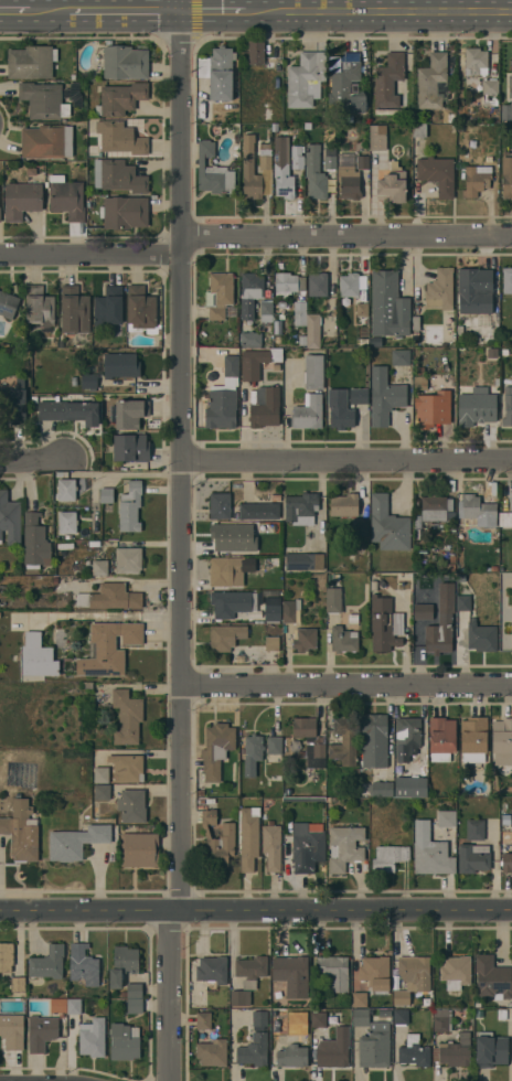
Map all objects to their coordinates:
road: (287, 7)
road: (334, 7)
road: (14, 12)
road: (126, 12)
road: (214, 12)
road: (50, 13)
road: (380, 13)
building: (256, 53)
building: (476, 61)
building: (31, 62)
building: (125, 62)
building: (218, 72)
building: (93, 76)
building: (306, 79)
building: (433, 82)
building: (345, 84)
building: (391, 85)
building: (490, 86)
building: (510, 86)
building: (73, 95)
building: (120, 98)
building: (44, 99)
building: (506, 111)
building: (321, 118)
building: (419, 130)
building: (120, 138)
building: (376, 139)
building: (47, 141)
building: (206, 149)
building: (265, 156)
building: (329, 158)
building: (362, 160)
building: (297, 162)
building: (282, 170)
building: (314, 173)
building: (348, 173)
building: (437, 174)
building: (118, 175)
building: (250, 175)
building: (506, 175)
building: (215, 178)
building: (477, 180)
building: (392, 186)
building: (66, 197)
building: (21, 200)
building: (124, 212)
building: (0, 214)
road: (348, 235)
road: (92, 256)
building: (506, 279)
building: (288, 283)
building: (318, 285)
building: (349, 285)
building: (440, 289)
building: (474, 290)
building: (220, 295)
building: (256, 296)
building: (8, 303)
building: (282, 304)
building: (388, 304)
building: (108, 307)
building: (141, 307)
building: (40, 308)
building: (362, 309)
building: (74, 310)
building: (300, 313)
building: (416, 323)
building: (313, 330)
building: (416, 335)
building: (277, 338)
building: (250, 339)
building: (303, 340)
building: (375, 341)
building: (78, 342)
building: (363, 342)
building: (504, 351)
building: (492, 353)
building: (401, 356)
building: (257, 363)
building: (121, 365)
building: (364, 368)
building: (419, 370)
building: (314, 372)
building: (15, 379)
building: (74, 381)
building: (88, 381)
building: (362, 381)
building: (420, 383)
building: (359, 396)
building: (384, 396)
building: (224, 397)
building: (13, 405)
building: (477, 406)
building: (508, 406)
building: (266, 407)
building: (433, 408)
building: (68, 411)
building: (130, 413)
building: (309, 414)
building: (342, 418)
building: (131, 447)
road: (184, 454)
road: (349, 461)
road: (32, 462)
building: (116, 467)
building: (66, 490)
building: (107, 495)
building: (276, 497)
building: (220, 505)
building: (343, 505)
building: (130, 506)
building: (435, 507)
building: (478, 507)
building: (301, 509)
building: (259, 511)
building: (505, 512)
building: (10, 520)
building: (67, 522)
building: (387, 524)
building: (363, 529)
building: (233, 537)
building: (35, 543)
building: (128, 560)
building: (305, 561)
building: (99, 567)
building: (450, 567)
building: (493, 568)
building: (226, 571)
building: (333, 591)
building: (110, 597)
building: (237, 601)
building: (2, 602)
building: (463, 602)
building: (273, 609)
building: (291, 610)
building: (353, 618)
building: (382, 623)
building: (423, 624)
building: (225, 636)
building: (481, 636)
building: (305, 639)
building: (344, 640)
building: (271, 643)
building: (108, 647)
building: (38, 656)
building: (86, 684)
road: (348, 685)
building: (127, 717)
building: (406, 737)
building: (344, 739)
building: (441, 739)
building: (473, 739)
building: (374, 740)
building: (502, 740)
building: (310, 742)
building: (295, 746)
building: (252, 747)
building: (216, 749)
building: (274, 749)
building: (127, 767)
building: (355, 772)
building: (102, 774)
building: (364, 775)
building: (275, 778)
building: (410, 786)
building: (381, 789)
building: (103, 792)
building: (200, 792)
building: (288, 792)
building: (303, 800)
building: (131, 806)
building: (505, 817)
building: (447, 818)
building: (476, 830)
building: (20, 832)
building: (248, 837)
building: (78, 841)
building: (217, 841)
building: (271, 845)
building: (307, 845)
building: (344, 847)
building: (139, 849)
building: (430, 852)
building: (388, 858)
building: (472, 858)
building: (506, 863)
road: (255, 909)
building: (6, 955)
building: (49, 962)
building: (122, 964)
building: (83, 965)
building: (212, 970)
building: (250, 971)
building: (334, 971)
building: (456, 972)
building: (291, 975)
building: (412, 976)
building: (492, 977)
building: (373, 978)
building: (18, 983)
building: (132, 989)
road: (170, 995)
building: (241, 997)
building: (57, 1005)
building: (74, 1006)
building: (134, 1006)
building: (295, 1013)
building: (385, 1013)
building: (479, 1013)
building: (502, 1014)
building: (401, 1016)
building: (361, 1017)
building: (319, 1019)
building: (203, 1020)
building: (442, 1020)
building: (63, 1021)
building: (12, 1030)
building: (41, 1032)
building: (93, 1037)
building: (125, 1041)
building: (255, 1041)
building: (375, 1046)
building: (490, 1050)
building: (414, 1051)
building: (455, 1051)
building: (212, 1052)
building: (294, 1052)
building: (332, 1052)

